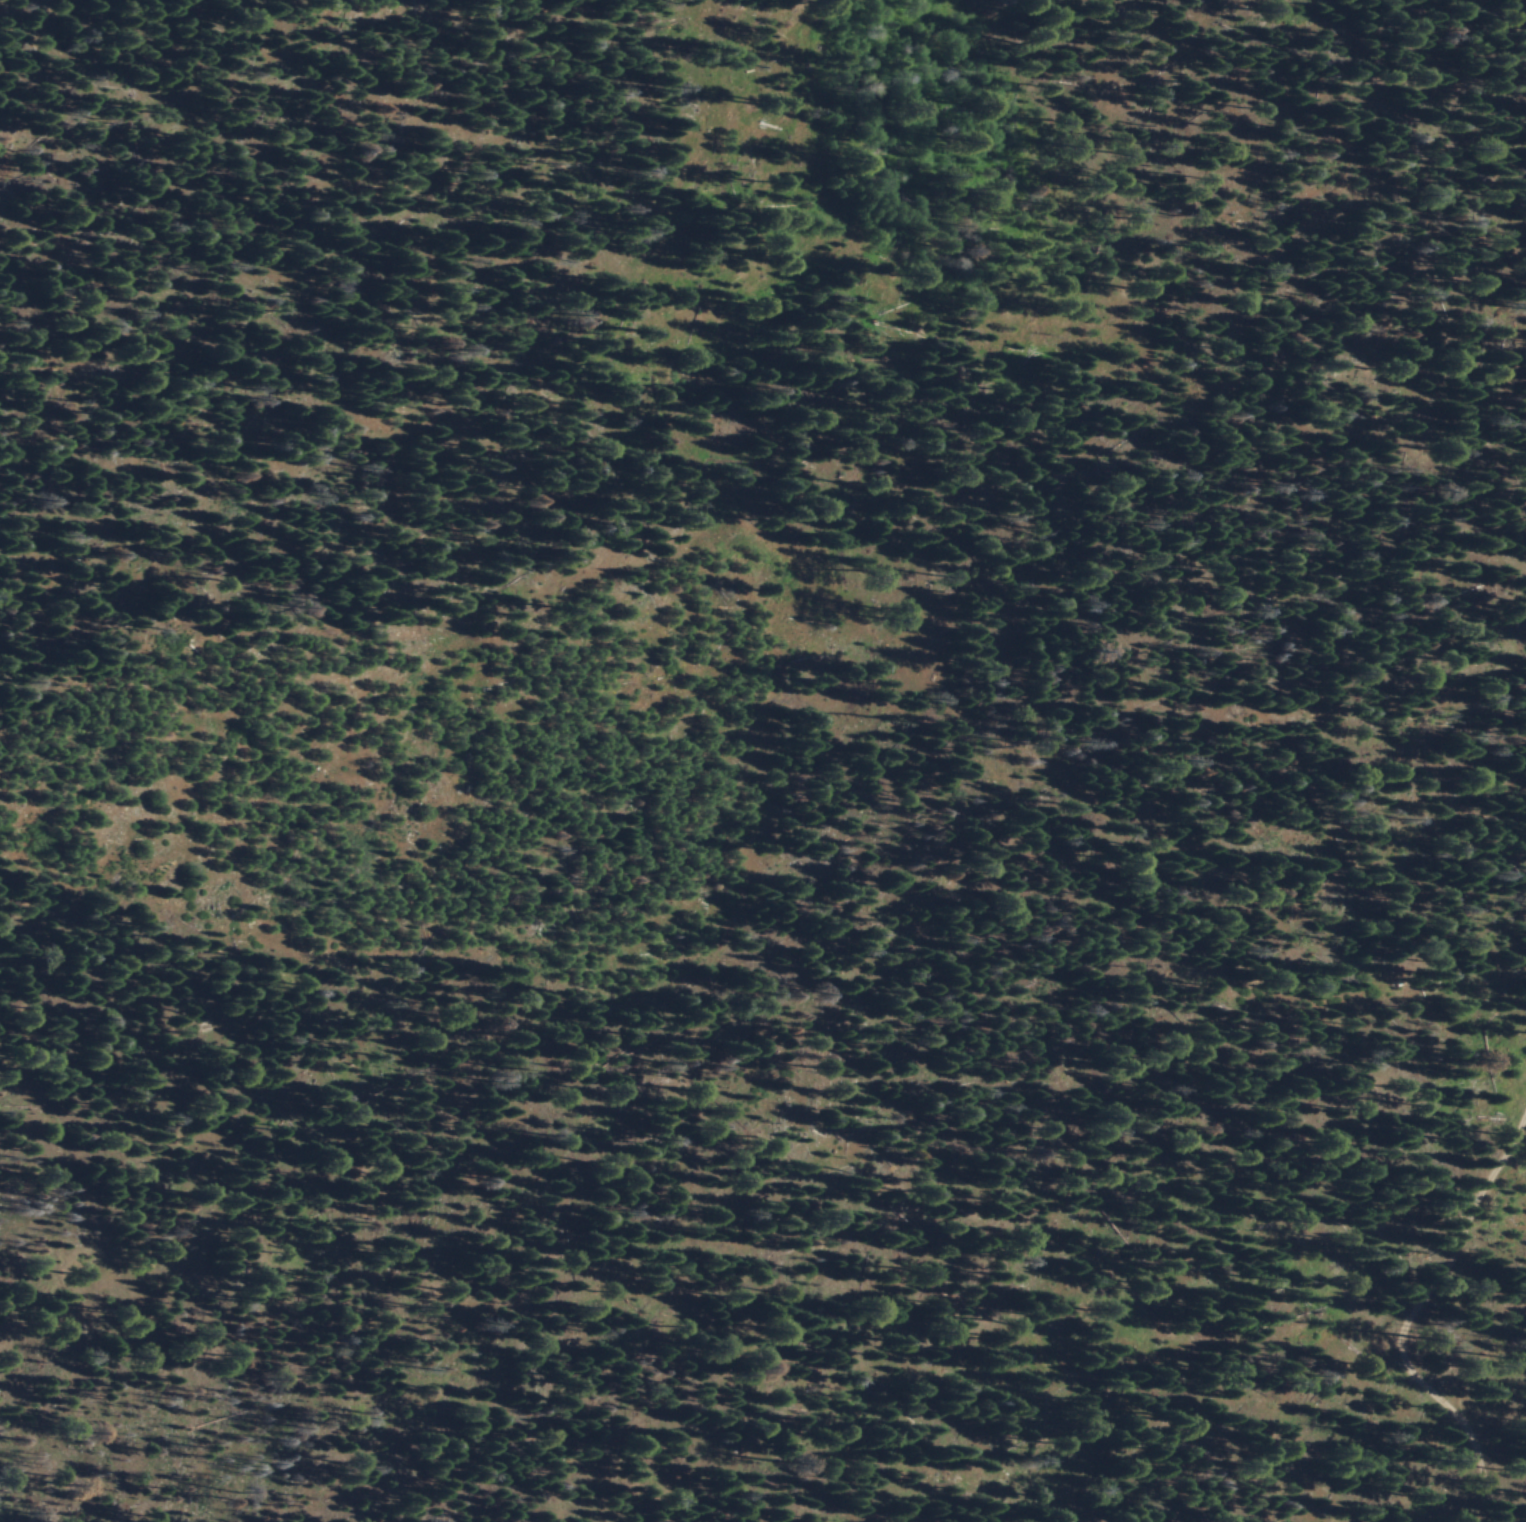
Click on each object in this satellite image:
road: (1335, 275)
road: (13, 494)
road: (1415, 1310)

